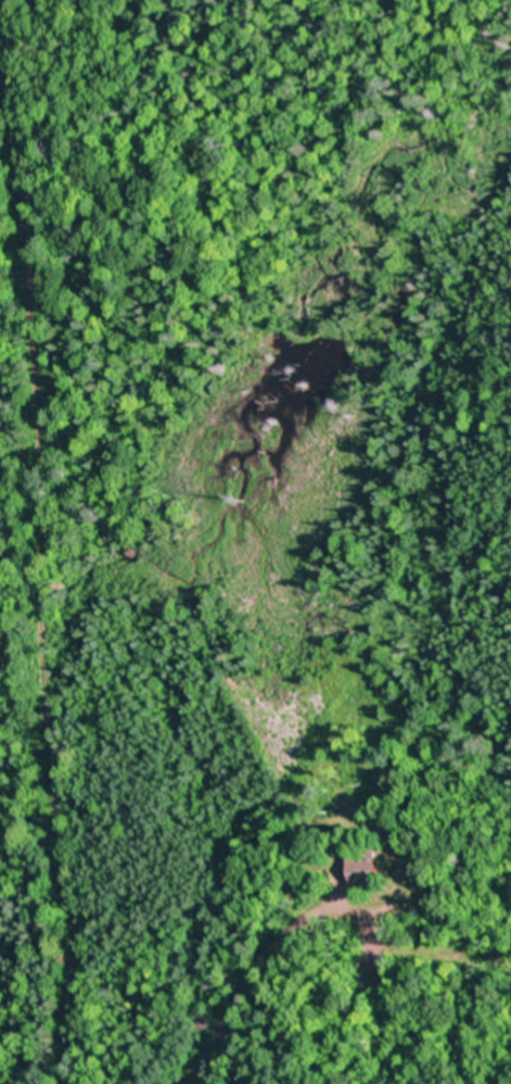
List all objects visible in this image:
building: (365, 867)

